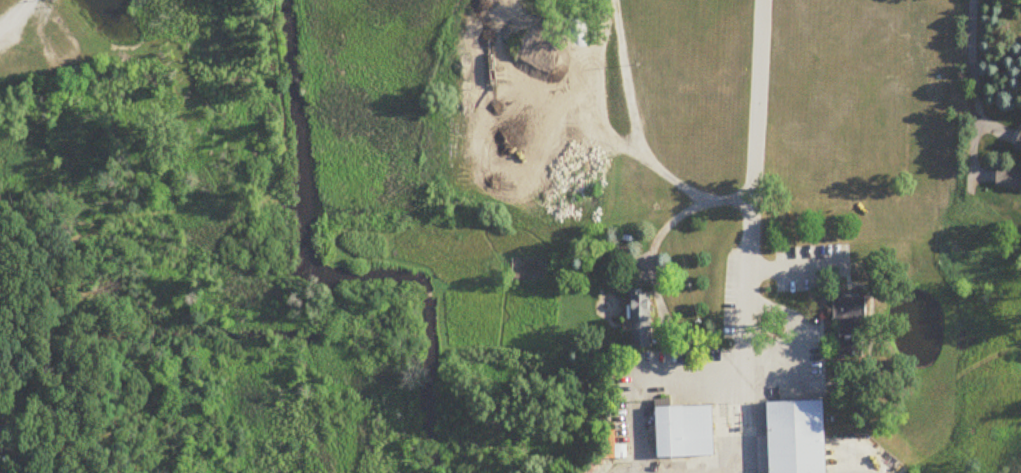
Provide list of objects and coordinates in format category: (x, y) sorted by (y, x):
road: (14, 14)
road: (972, 75)
road: (637, 139)
building: (1019, 144)
building: (1009, 178)
road: (753, 237)
building: (642, 319)
building: (852, 327)
building: (687, 432)
building: (800, 437)

